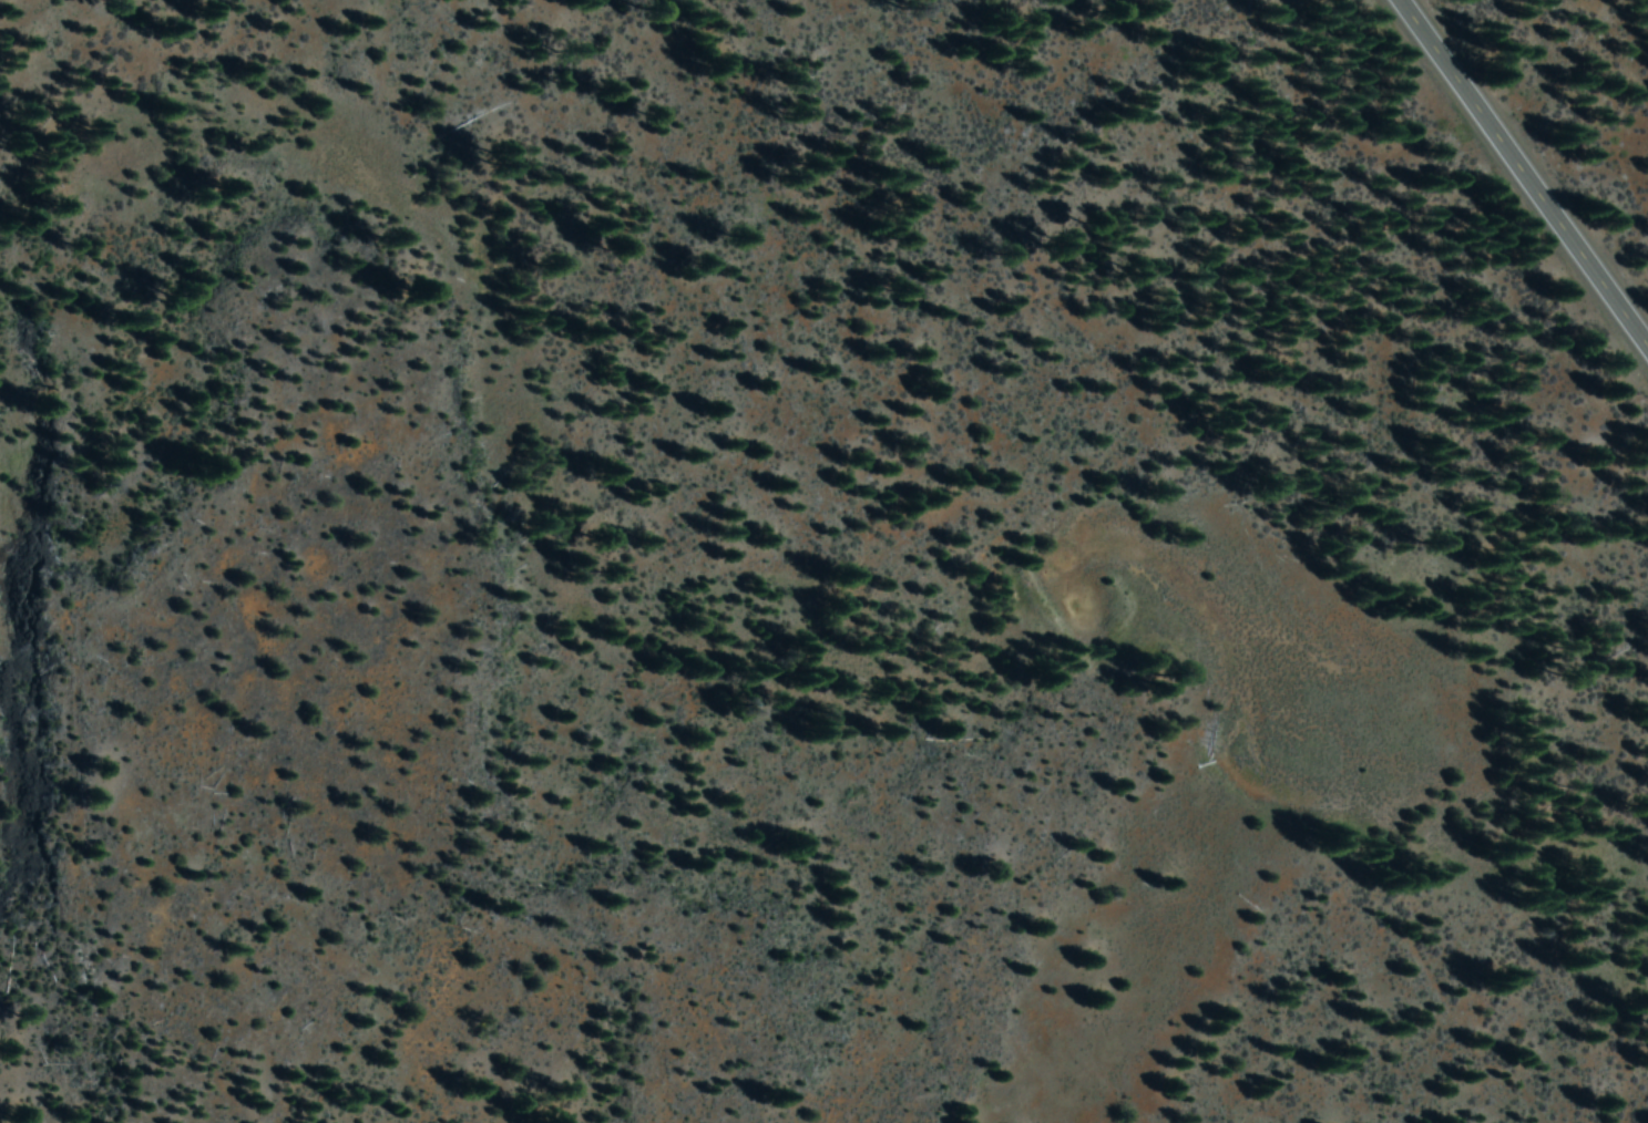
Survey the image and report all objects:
road: (1527, 168)

